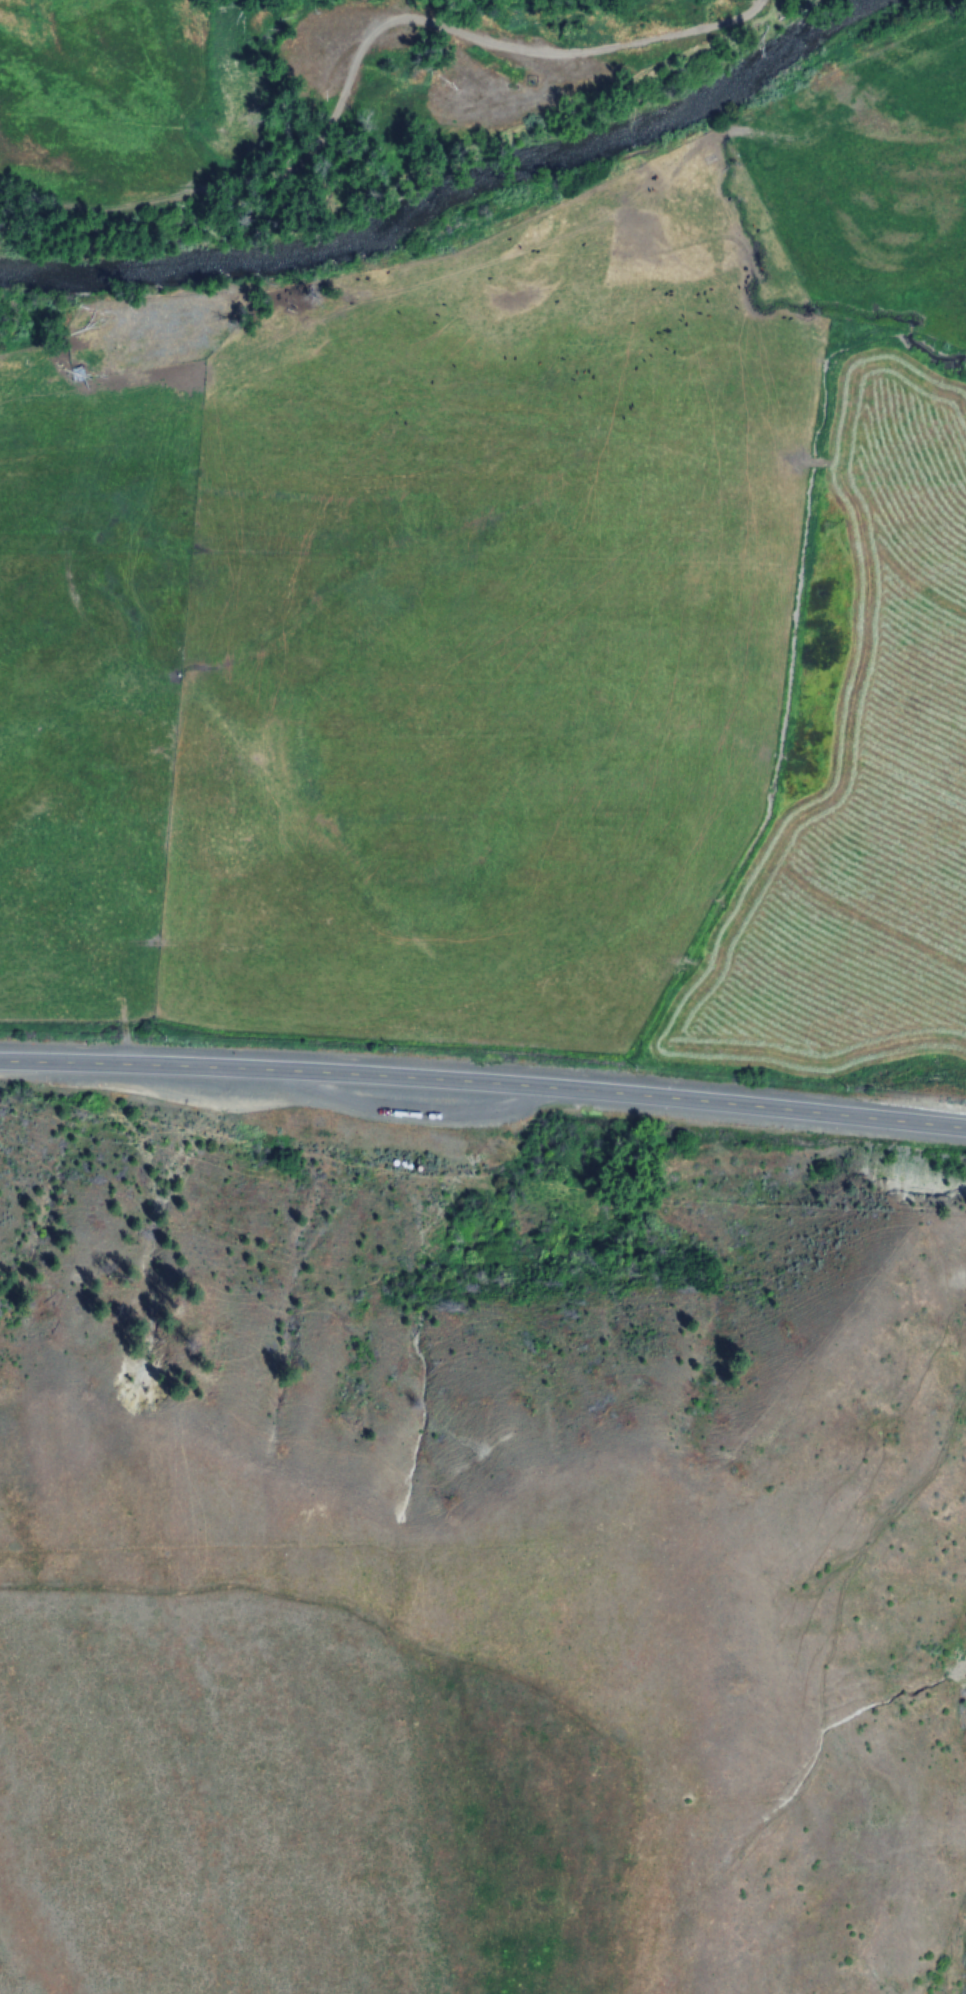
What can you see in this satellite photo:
river: (452, 196)
road: (483, 1084)
parking lot: (449, 1129)

